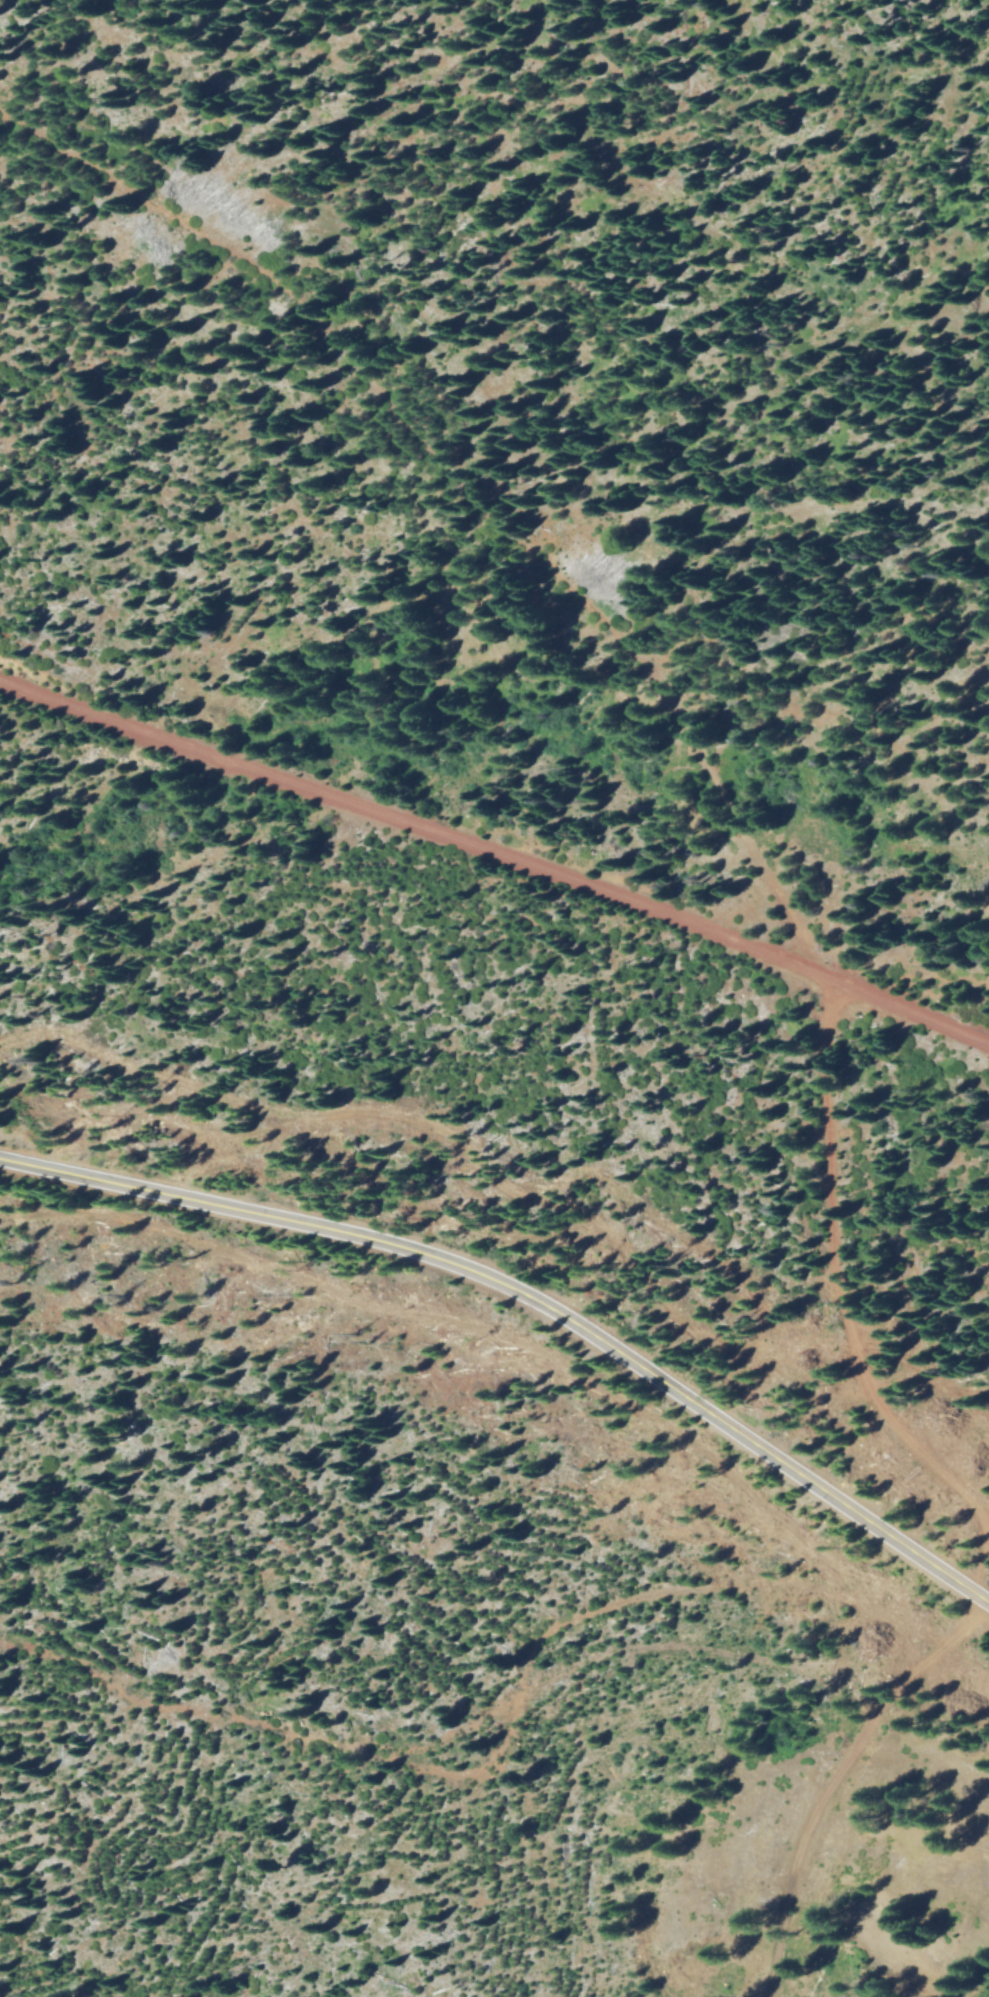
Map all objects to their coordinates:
road: (665, 695)
road: (497, 853)
road: (529, 1296)
road: (835, 1775)

